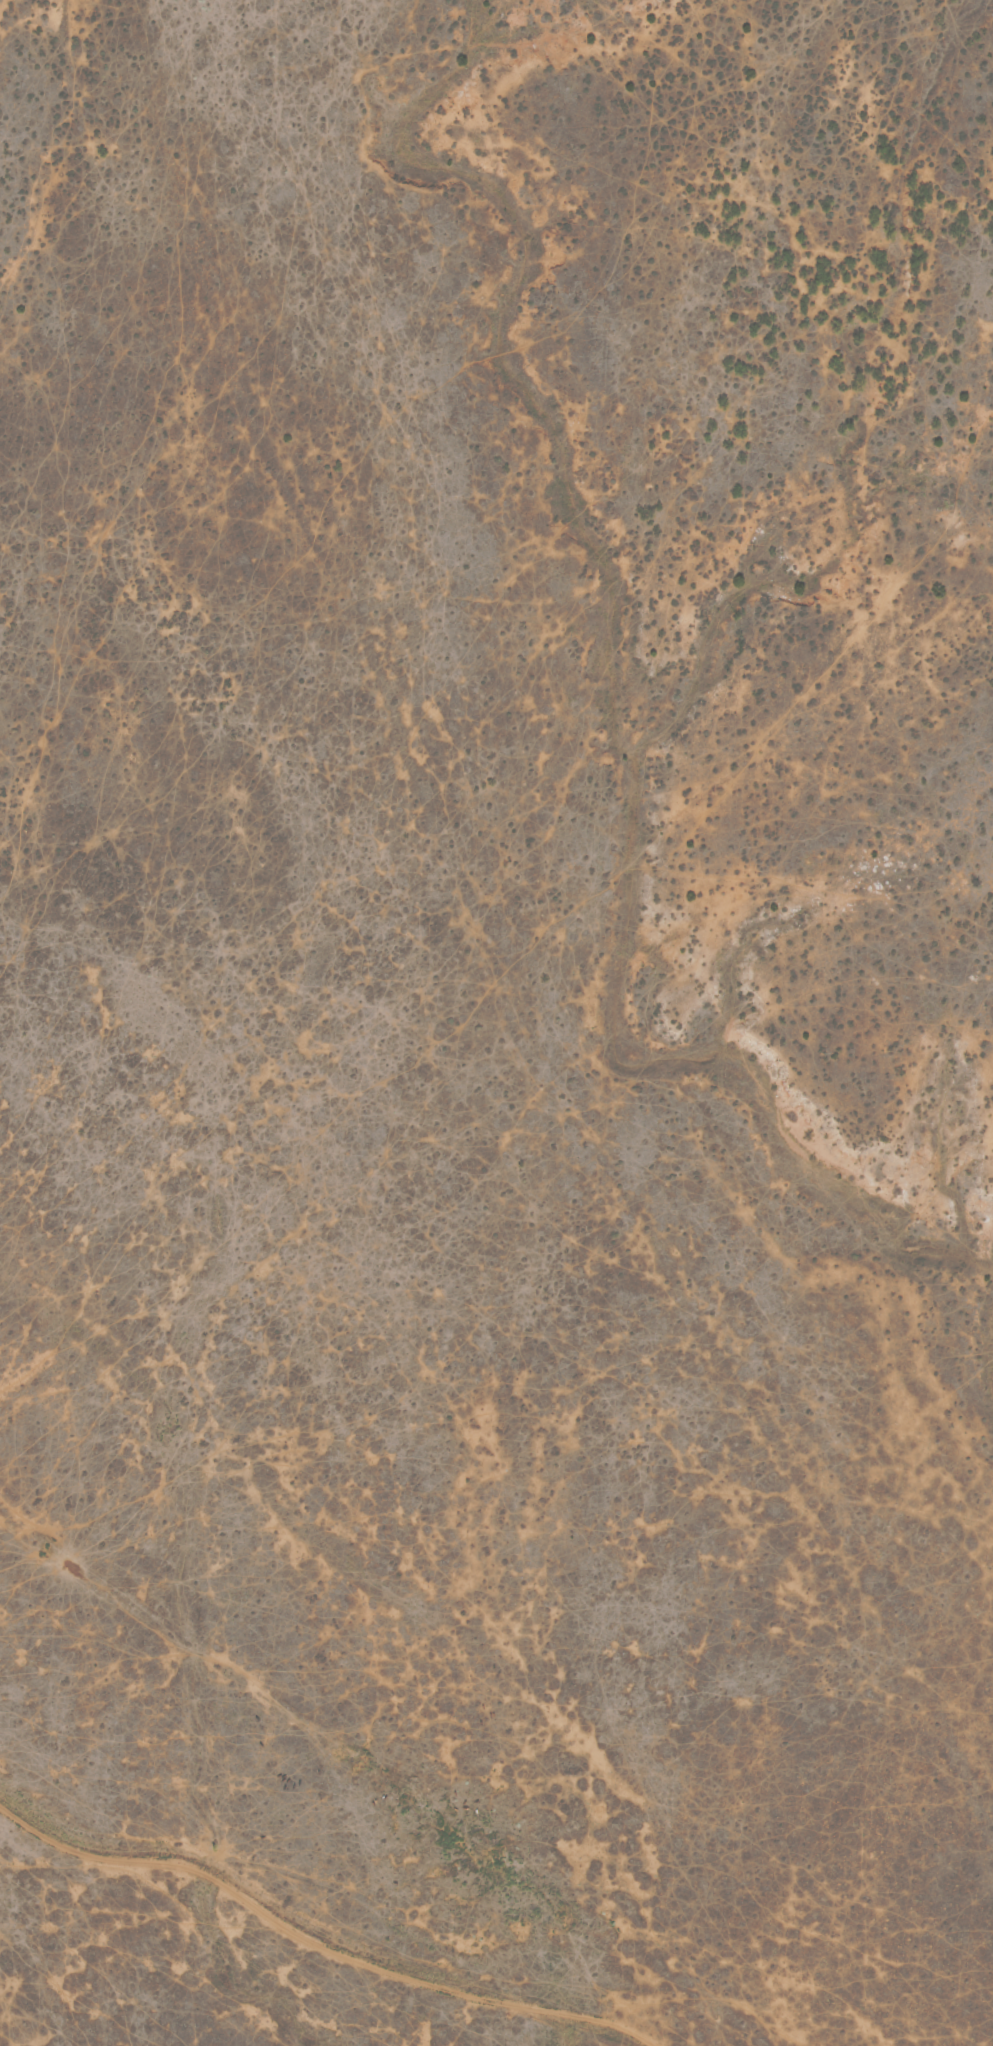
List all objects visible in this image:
road: (315, 1915)

